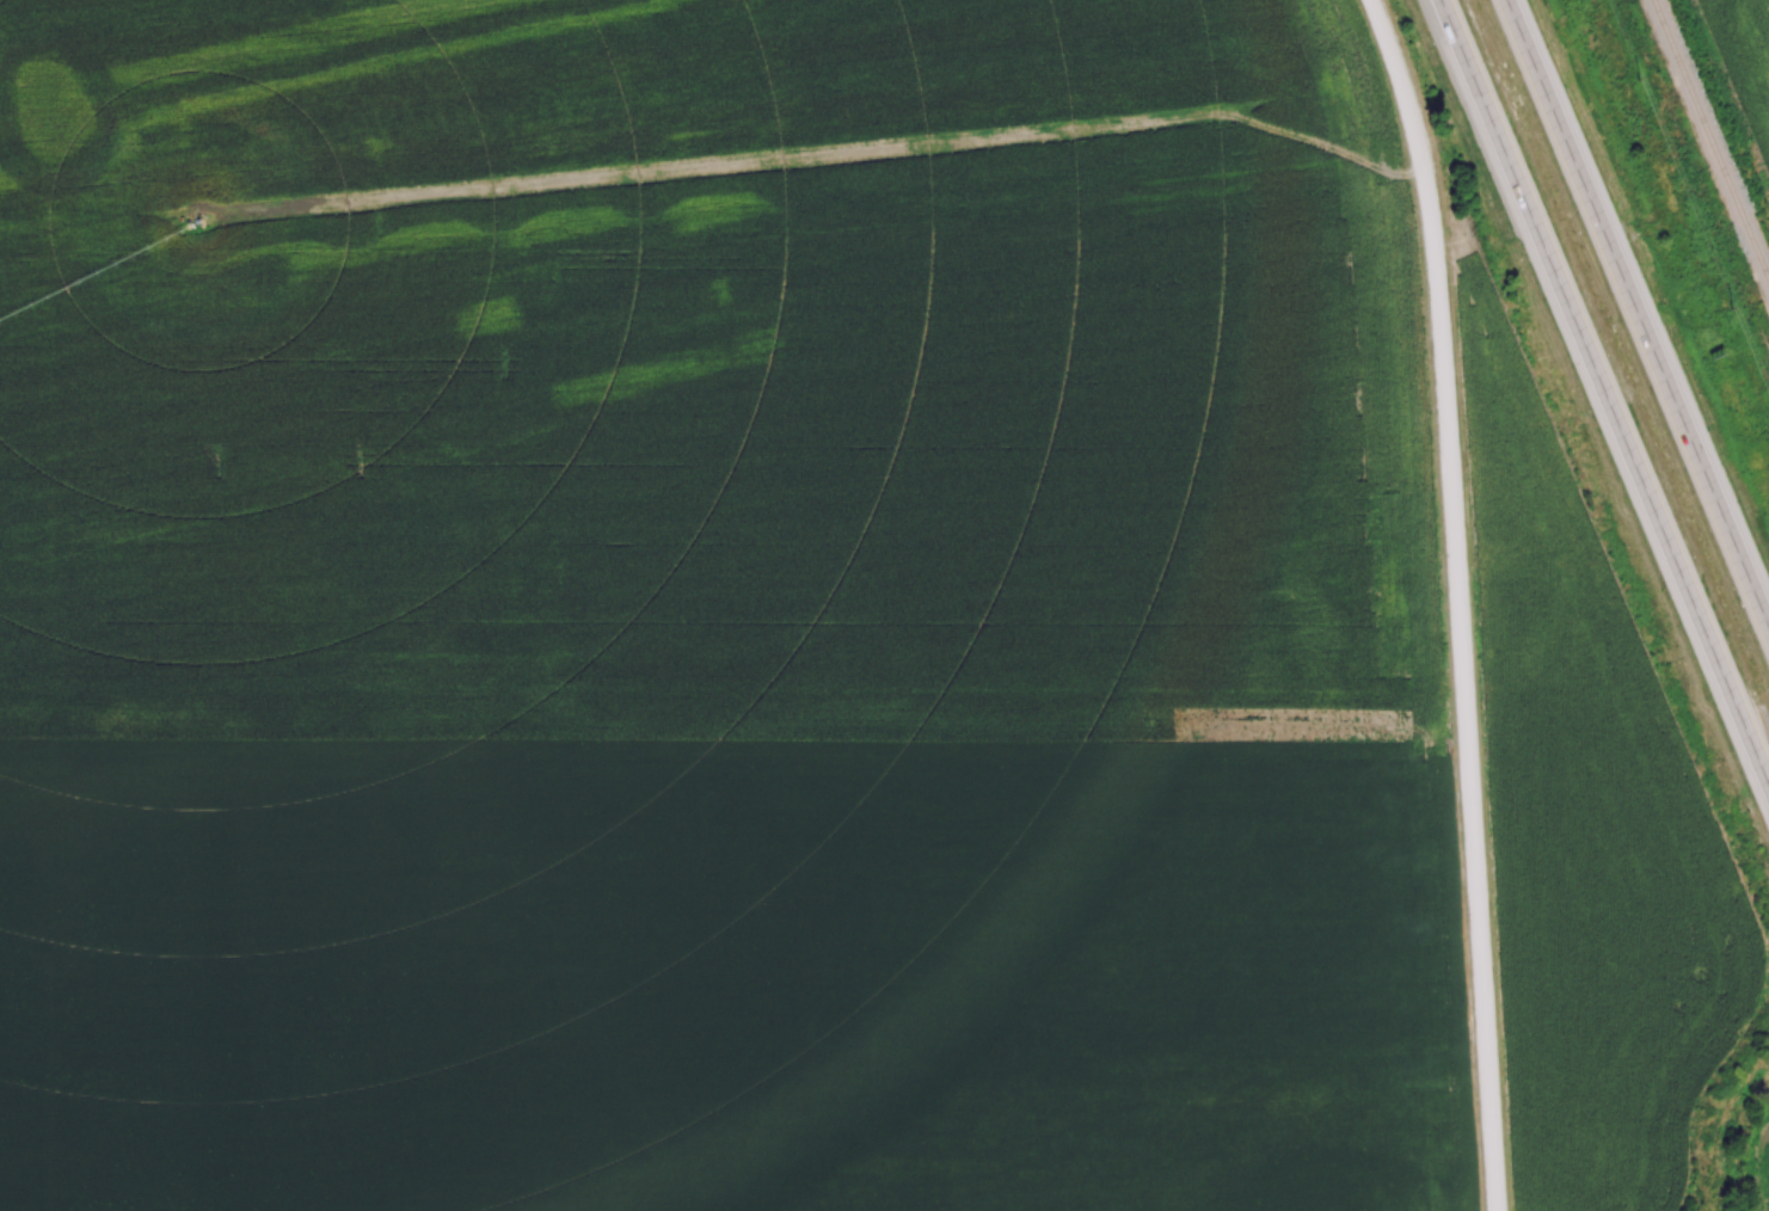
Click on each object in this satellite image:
railway: (1712, 137)
road: (1636, 313)
road: (1603, 392)
road: (1458, 601)

